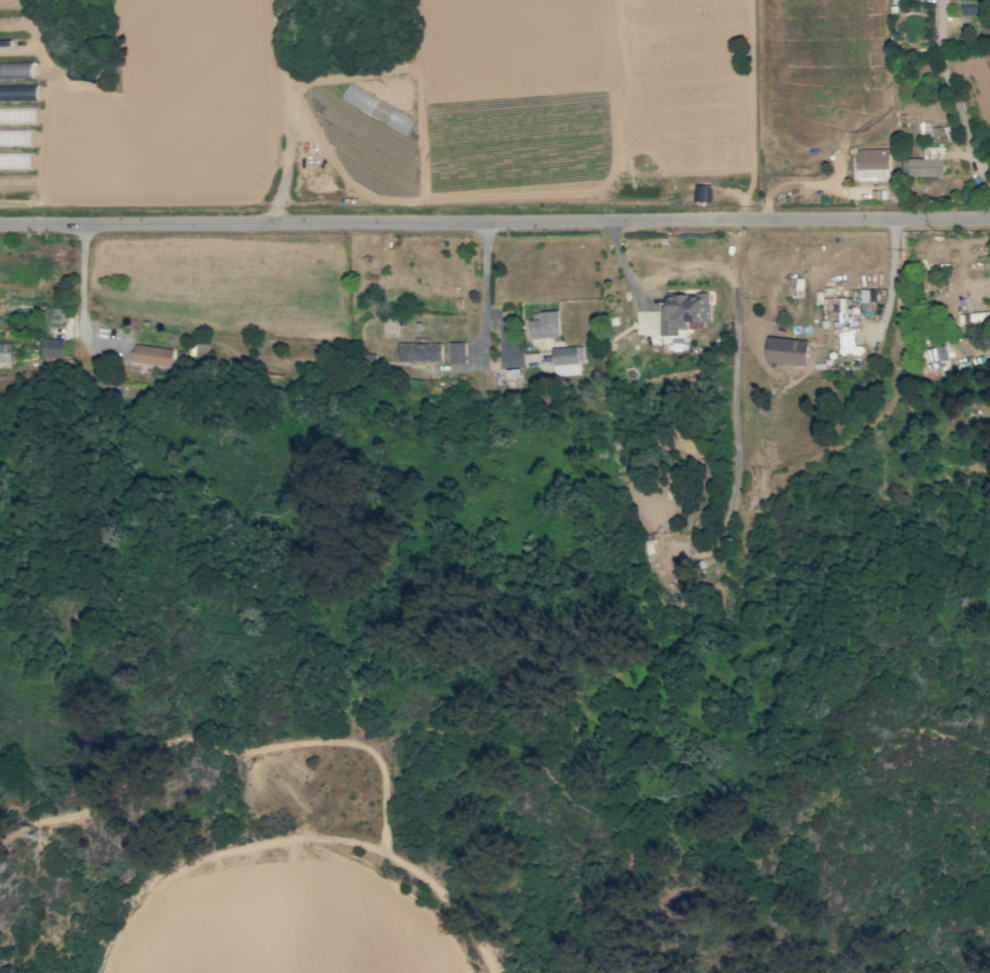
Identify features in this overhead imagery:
road: (954, 91)
building: (6, 114)
building: (872, 162)
building: (925, 163)
building: (700, 192)
road: (494, 220)
road: (890, 292)
building: (684, 311)
building: (842, 312)
building: (55, 315)
building: (974, 317)
building: (544, 325)
road: (485, 331)
building: (847, 342)
building: (51, 348)
building: (786, 350)
building: (5, 352)
building: (419, 352)
building: (456, 352)
building: (152, 355)
building: (934, 358)
building: (567, 360)
building: (512, 377)
power tower: (41, 837)
crop: (291, 927)

